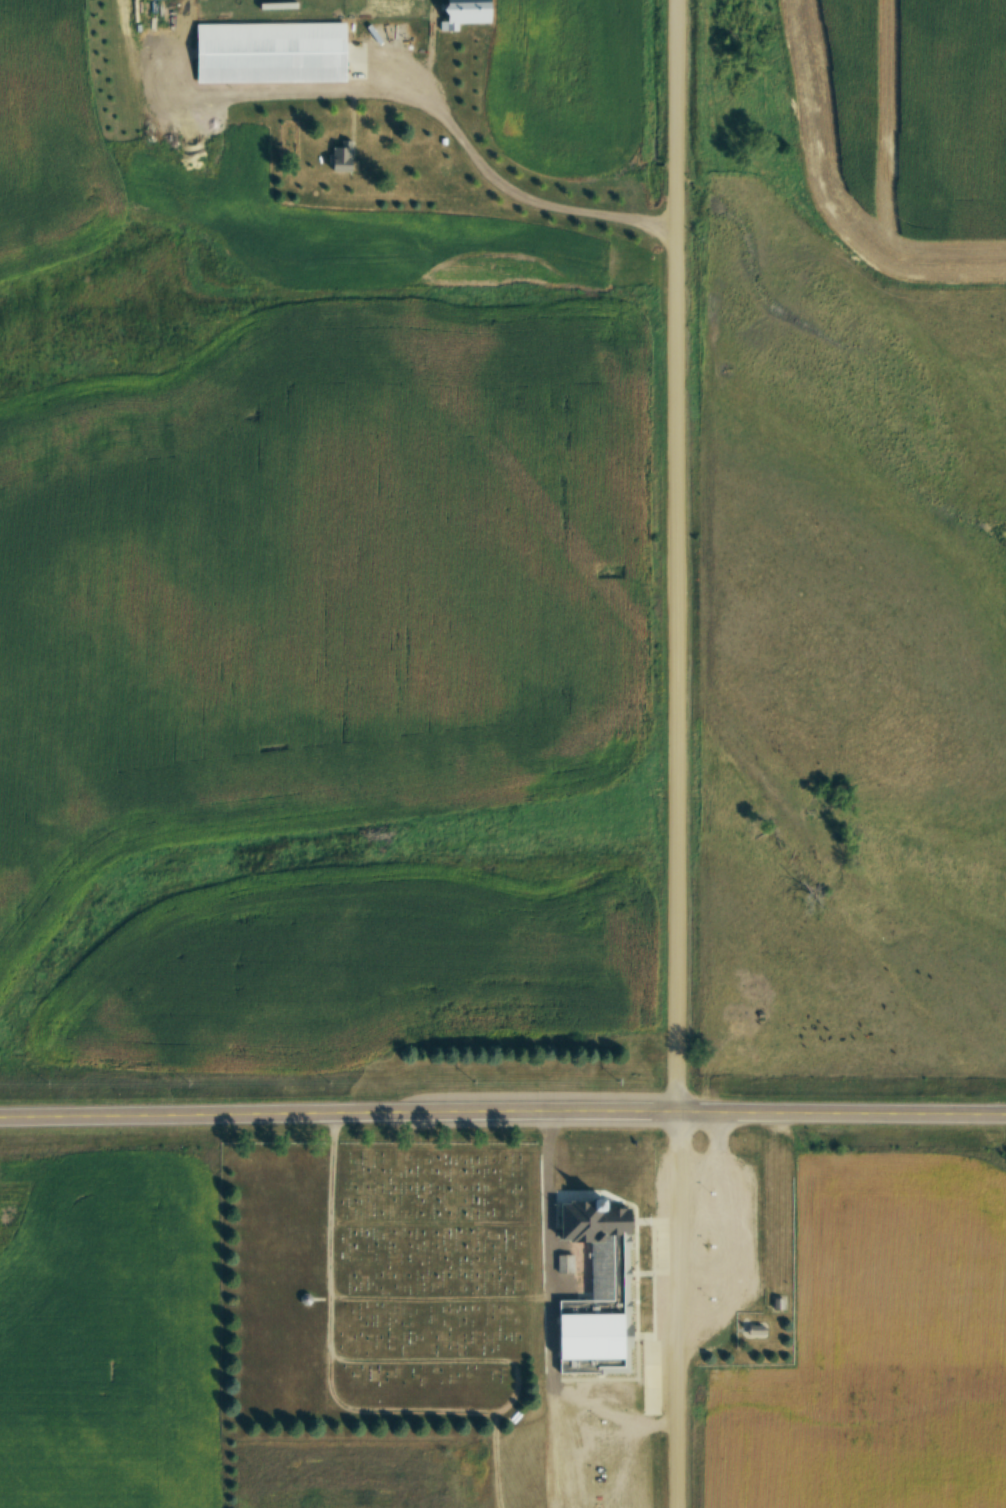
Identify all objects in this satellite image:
building: (212, 4)
building: (472, 13)
building: (392, 33)
building: (275, 52)
road: (435, 102)
building: (343, 156)
road: (681, 753)
road: (502, 1111)
building: (585, 1319)

